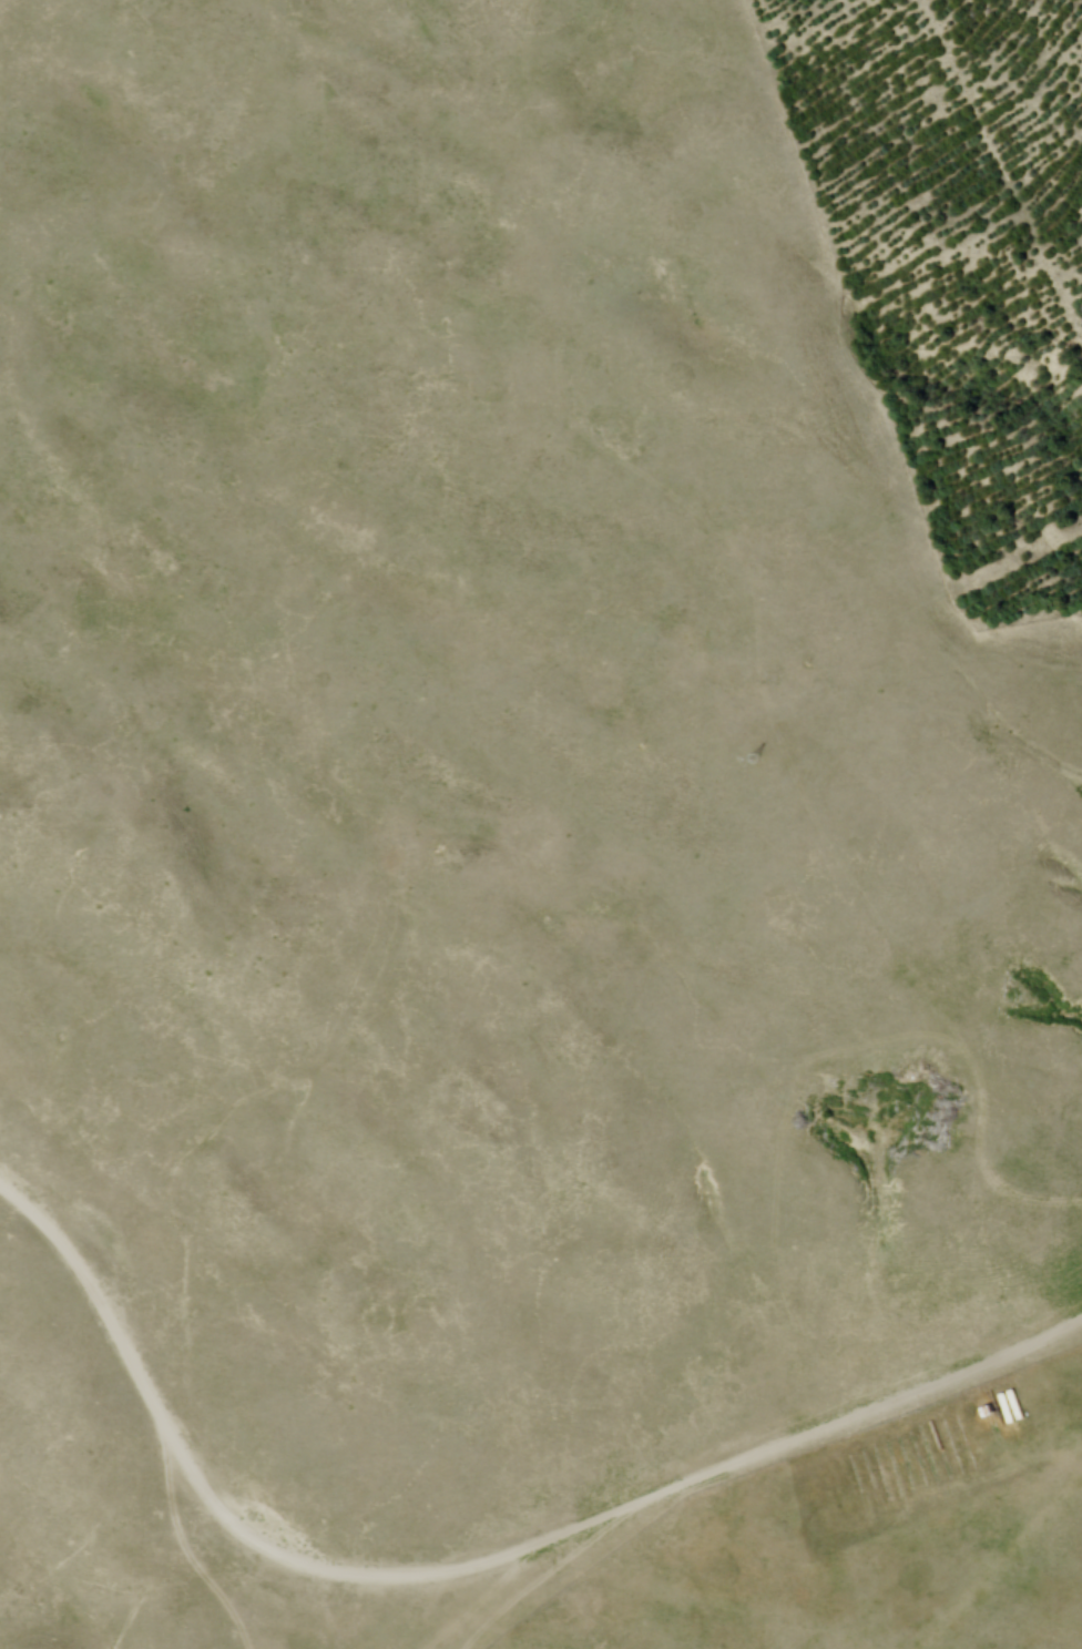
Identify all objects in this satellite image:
airport runway: (1001, 1560)
road: (469, 1566)
airport runway: (754, 1610)

